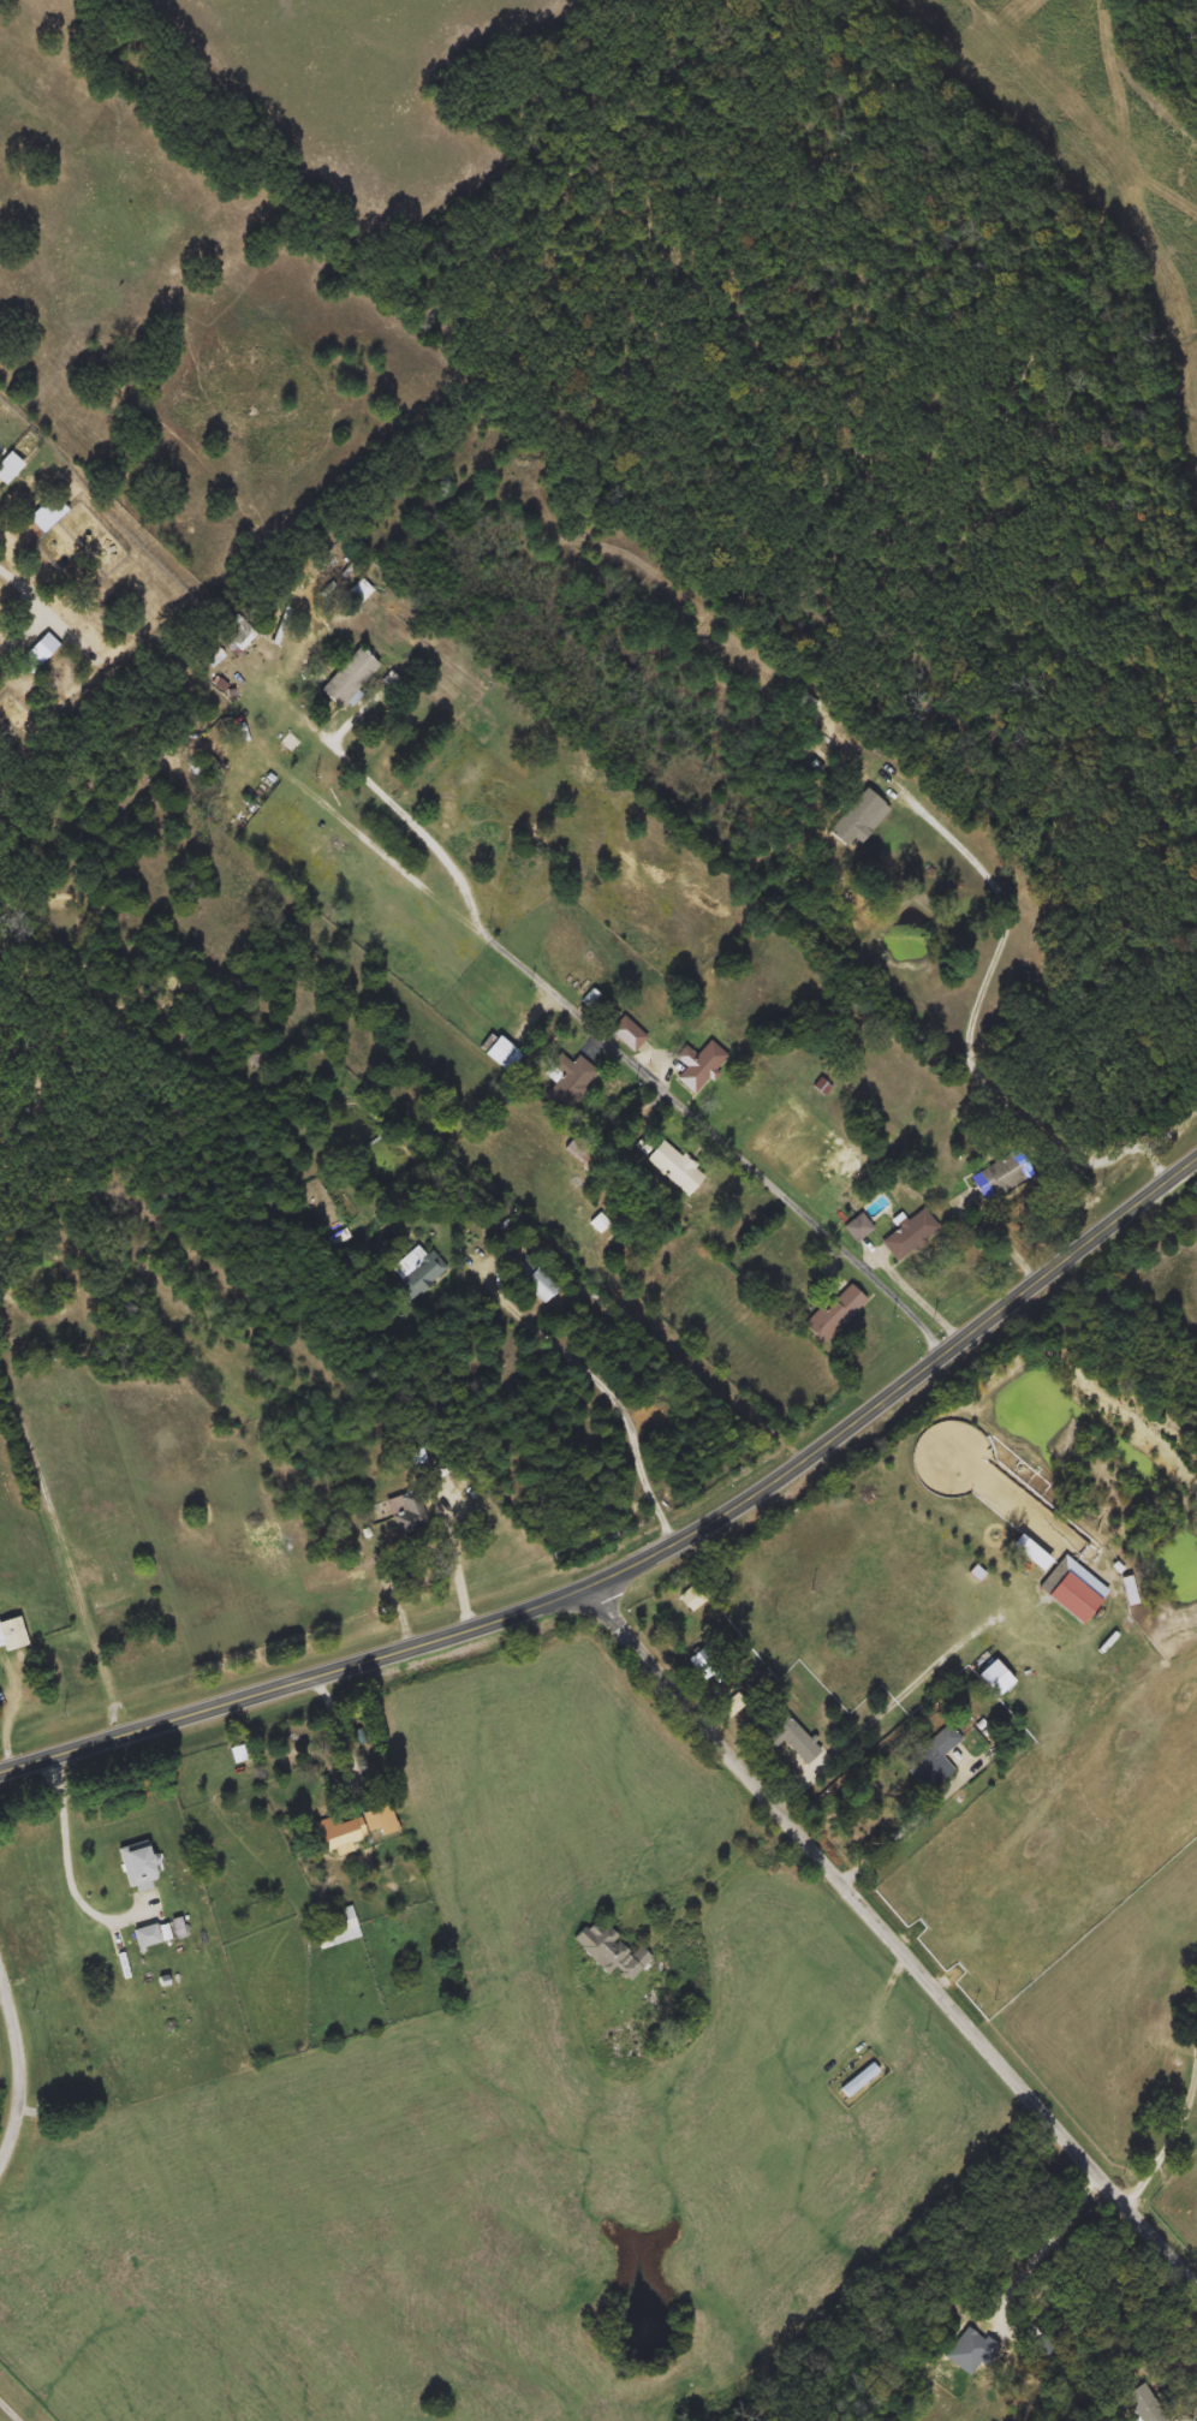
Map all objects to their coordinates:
building: (212, 660)
building: (350, 678)
building: (1028, 935)
road: (977, 1029)
building: (629, 1034)
road: (615, 1043)
building: (502, 1054)
building: (699, 1065)
building: (568, 1079)
building: (675, 1167)
building: (1004, 1174)
building: (859, 1227)
building: (911, 1235)
road: (1007, 1237)
building: (423, 1274)
building: (536, 1280)
road: (925, 1303)
building: (835, 1311)
road: (605, 1376)
building: (412, 1516)
road: (455, 1555)
road: (645, 1559)
building: (334, 1577)
building: (1072, 1589)
road: (431, 1592)
building: (692, 1598)
road: (400, 1601)
building: (13, 1635)
building: (707, 1666)
road: (8, 1731)
building: (788, 1731)
road: (345, 1737)
building: (936, 1756)
road: (917, 1814)
building: (352, 1830)
building: (139, 1864)
road: (73, 1868)
road: (717, 1870)
building: (337, 1927)
building: (149, 1937)
road: (891, 1937)
building: (613, 1950)
road: (2, 1991)
road: (875, 1998)
building: (627, 2044)
road: (18, 2065)
building: (860, 2080)
road: (1168, 2147)
road: (105, 2173)
road: (1086, 2345)
building: (1040, 2346)
road: (11, 2409)
road: (1196, 2420)

